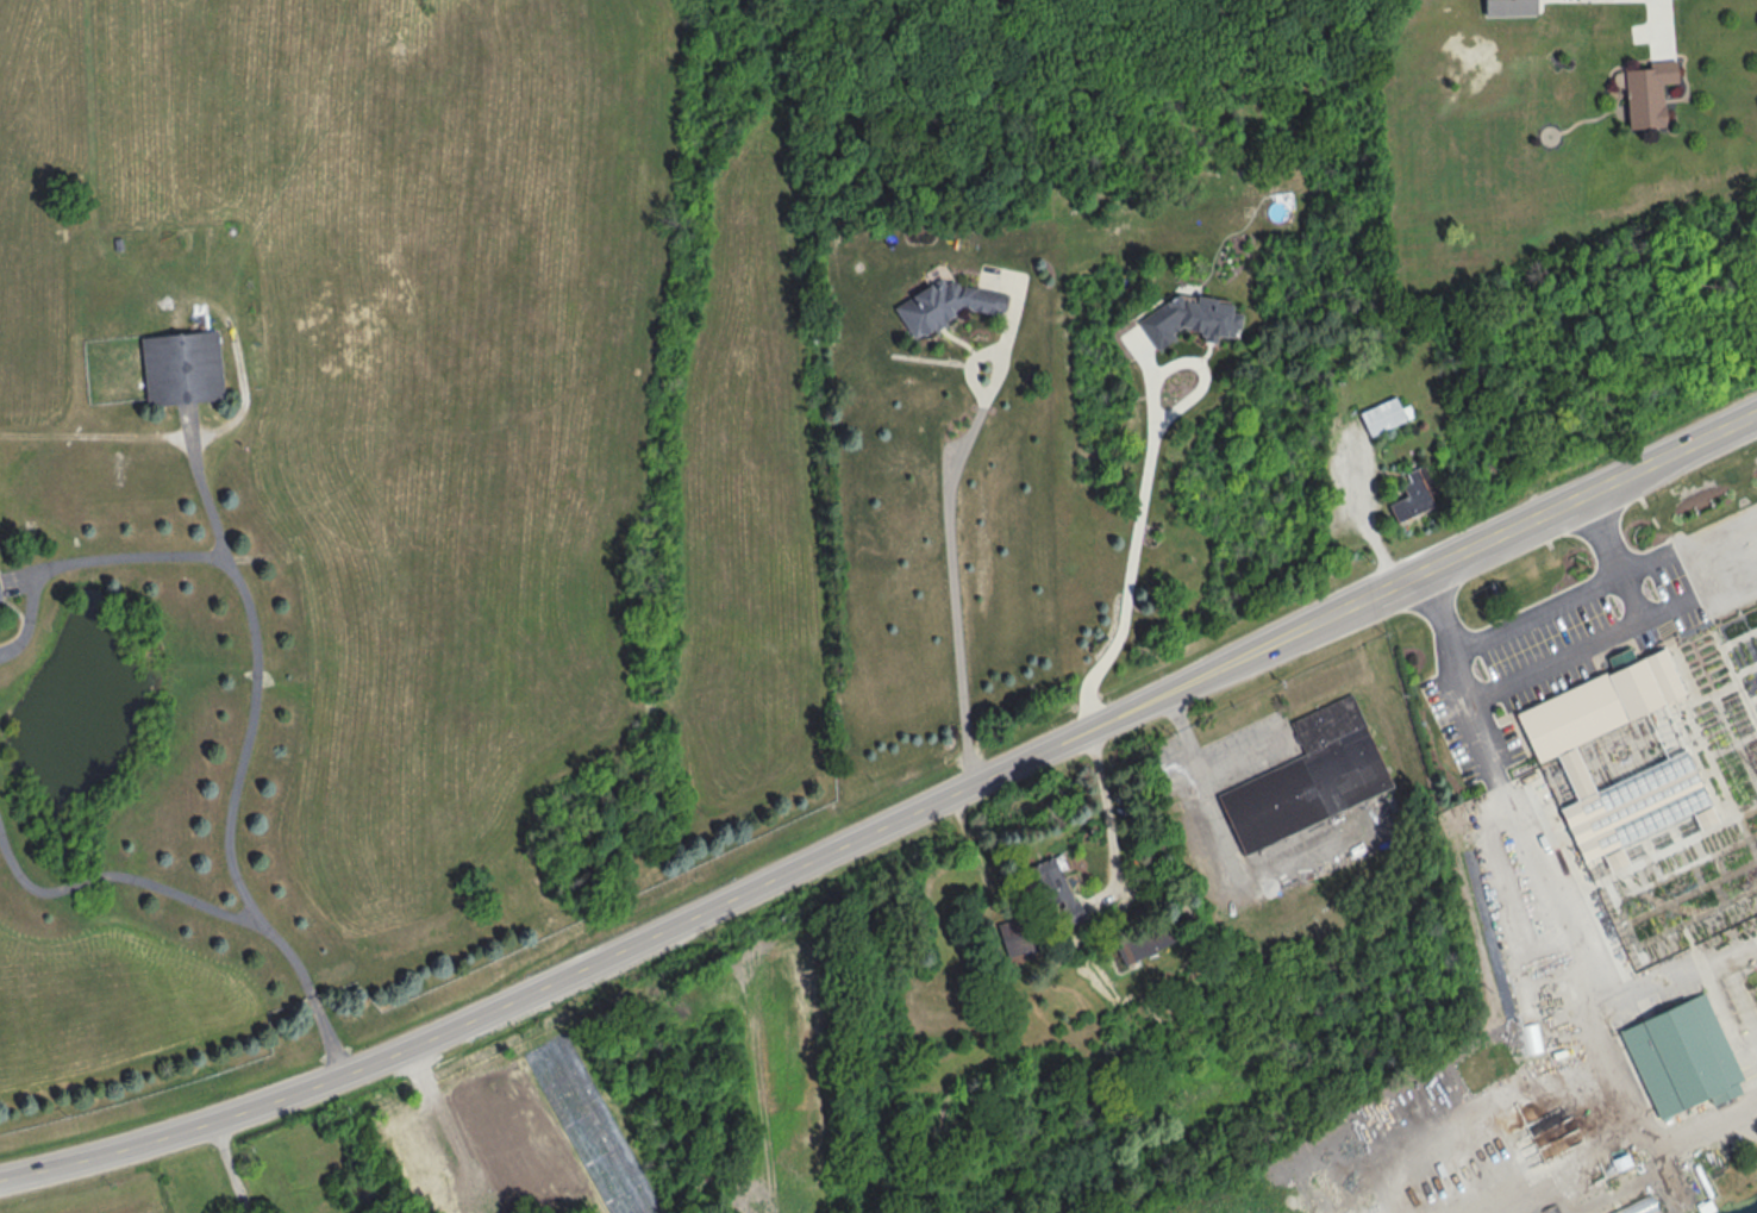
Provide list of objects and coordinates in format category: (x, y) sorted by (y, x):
road: (1668, 20)
building: (1645, 93)
building: (942, 304)
building: (180, 368)
building: (1383, 415)
road: (1670, 461)
building: (1412, 494)
road: (1149, 495)
road: (1362, 517)
road: (1481, 550)
road: (80, 559)
road: (953, 575)
building: (2, 590)
road: (1534, 614)
road: (1556, 662)
road: (254, 681)
building: (1614, 756)
road: (1244, 757)
building: (1307, 779)
road: (1109, 818)
road: (1224, 834)
building: (1052, 889)
road: (201, 906)
road: (698, 911)
road: (1572, 930)
building: (1146, 942)
building: (1681, 1057)
building: (1505, 1128)
road: (1705, 1133)
road: (231, 1167)
building: (1440, 1193)
building: (1615, 1212)
building: (1655, 1212)

